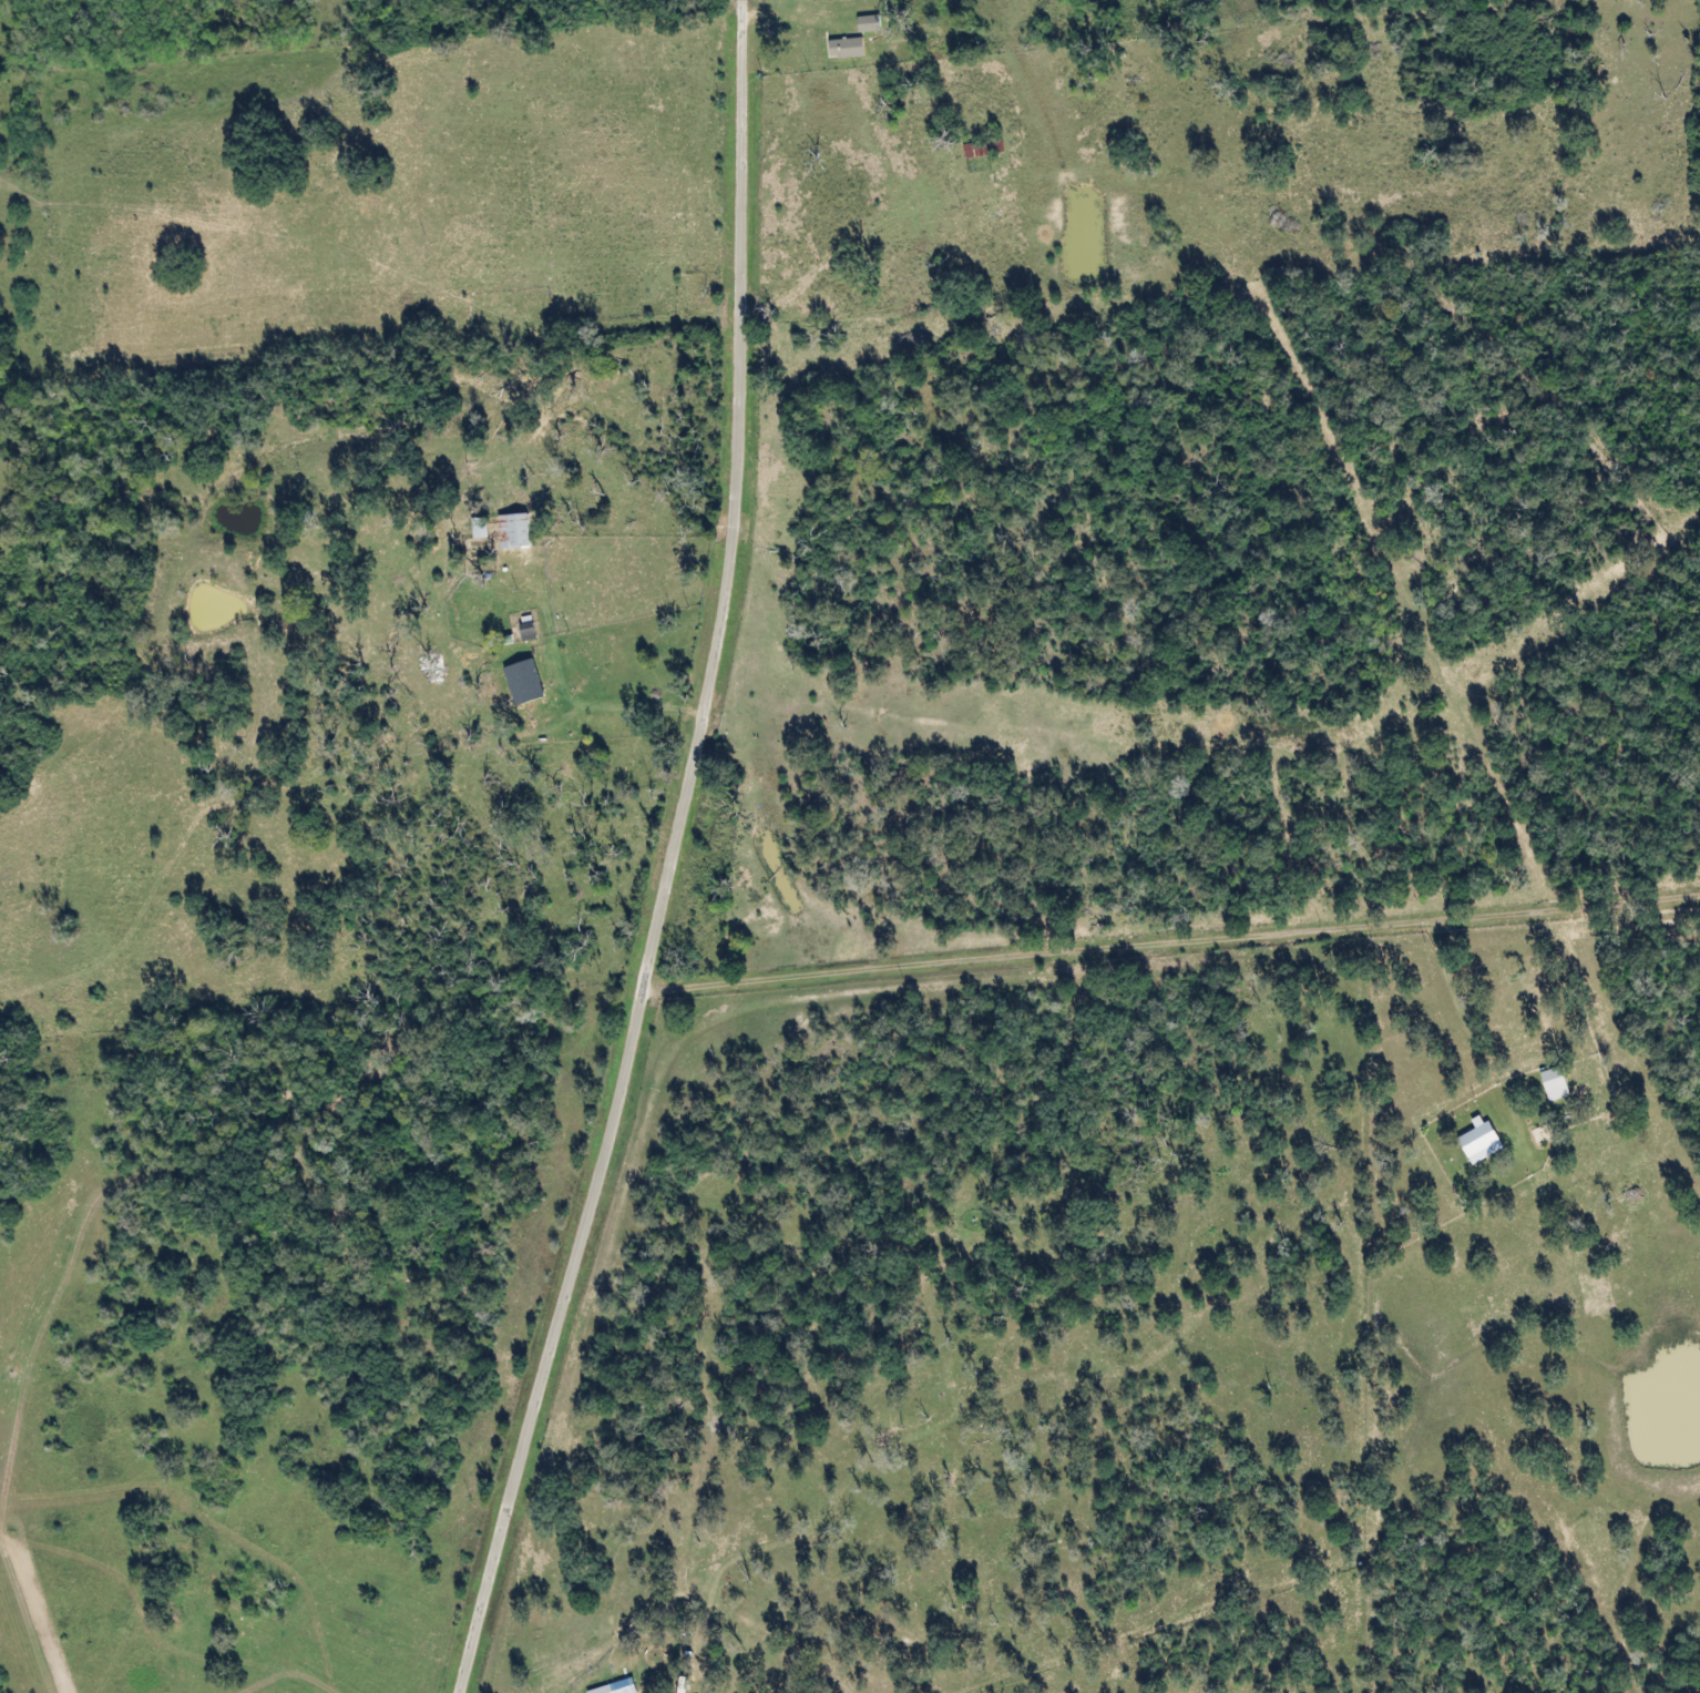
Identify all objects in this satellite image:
building: (862, 23)
building: (842, 48)
building: (510, 530)
building: (523, 630)
building: (524, 681)
road: (677, 857)
road: (1174, 938)
building: (1550, 1082)
building: (1476, 1142)
building: (614, 1687)

